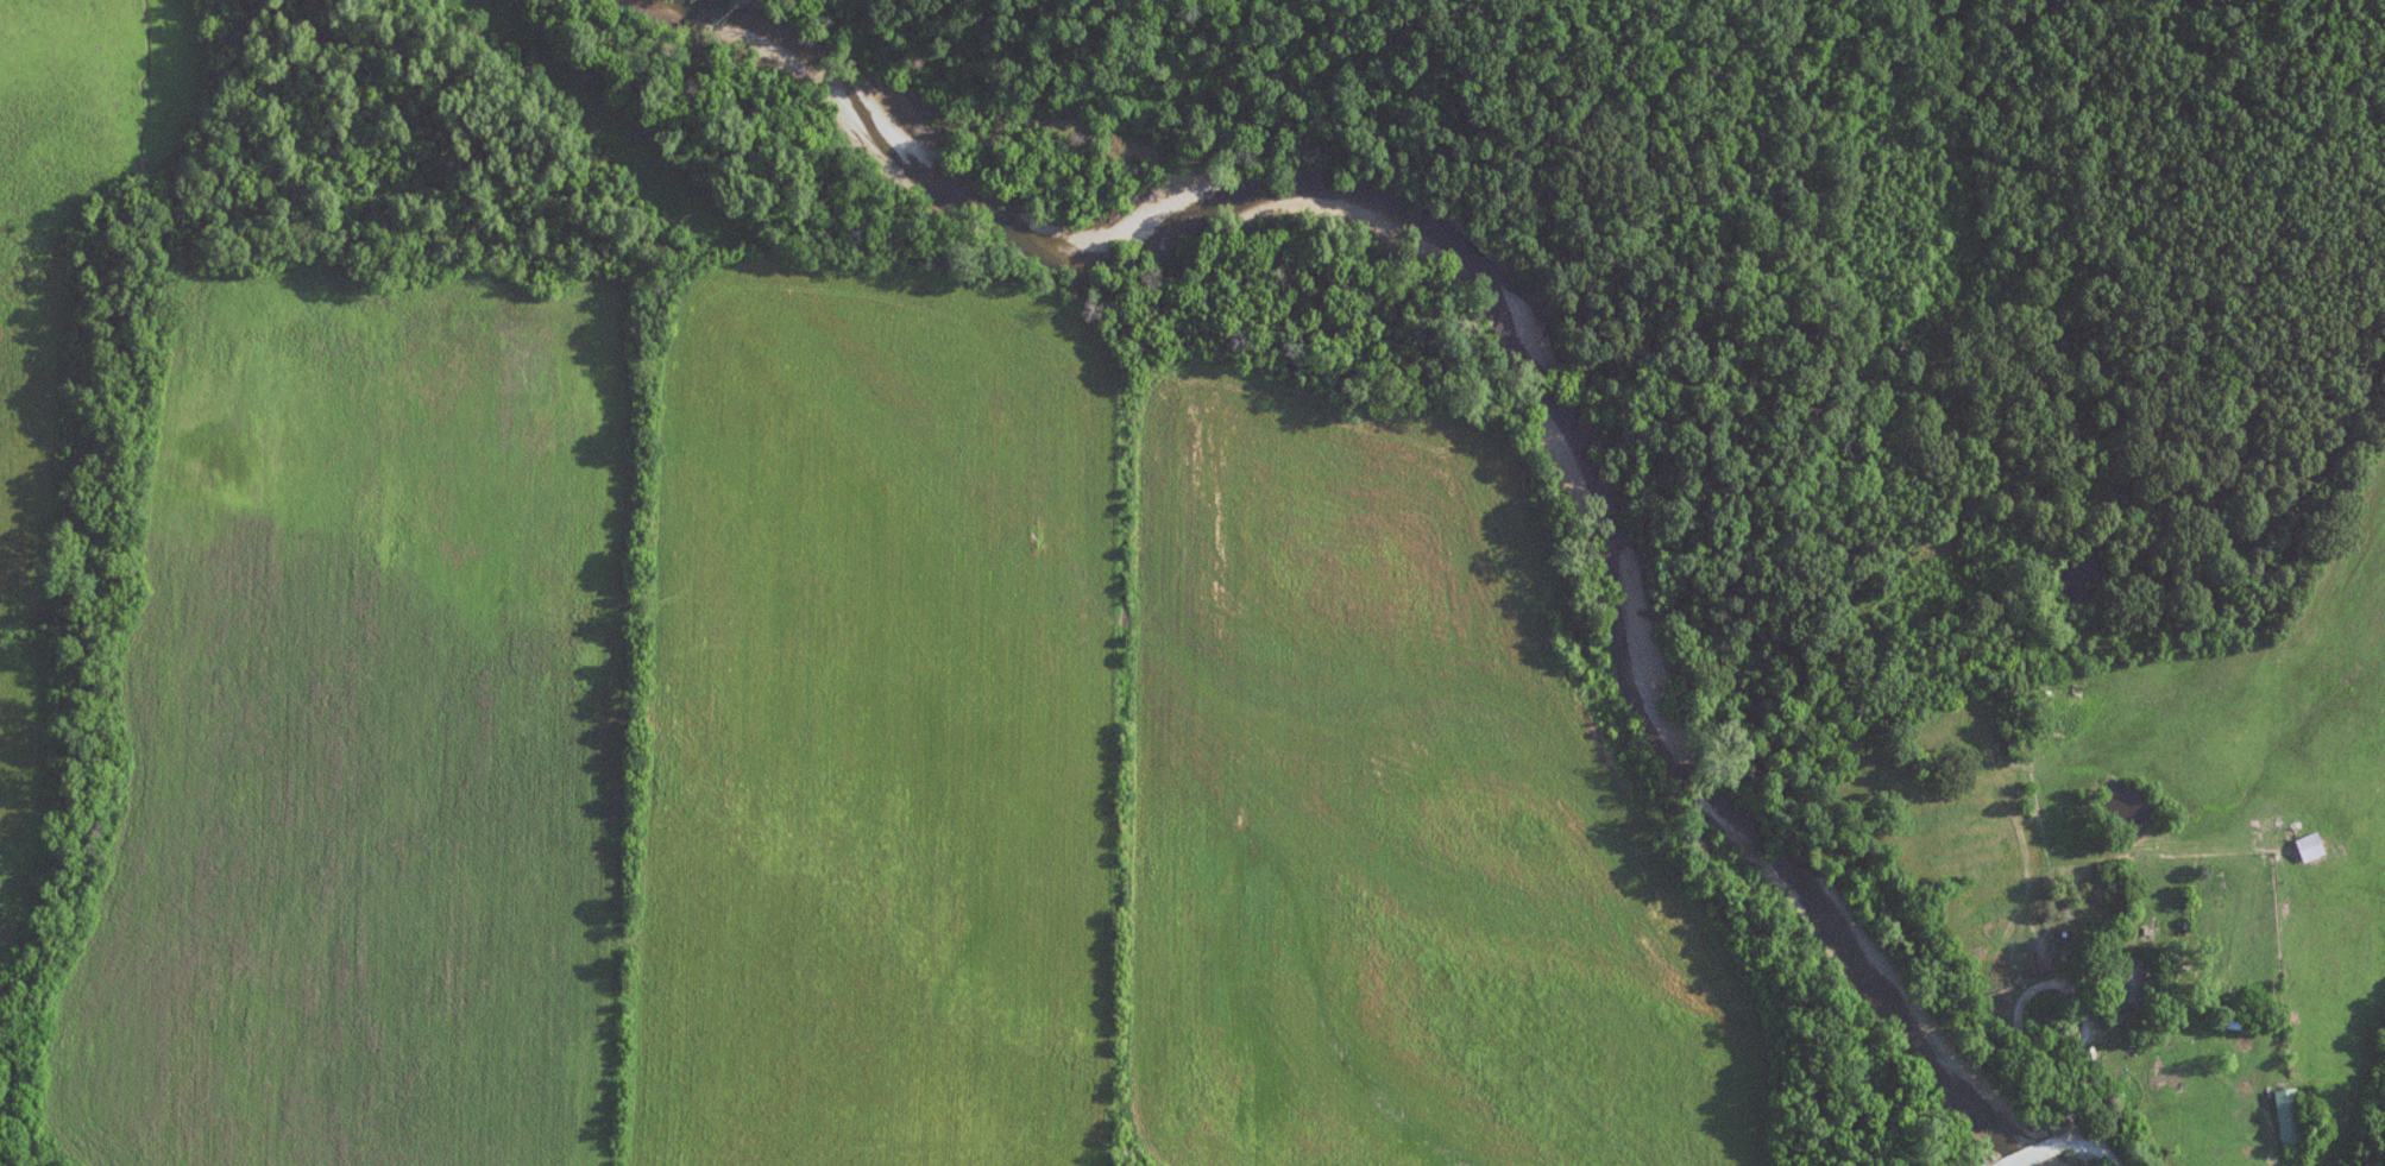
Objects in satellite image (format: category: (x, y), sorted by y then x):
building: (2311, 847)
building: (2131, 981)
building: (2236, 1021)
road: (2022, 1032)
building: (2291, 1117)
road: (2063, 1146)

